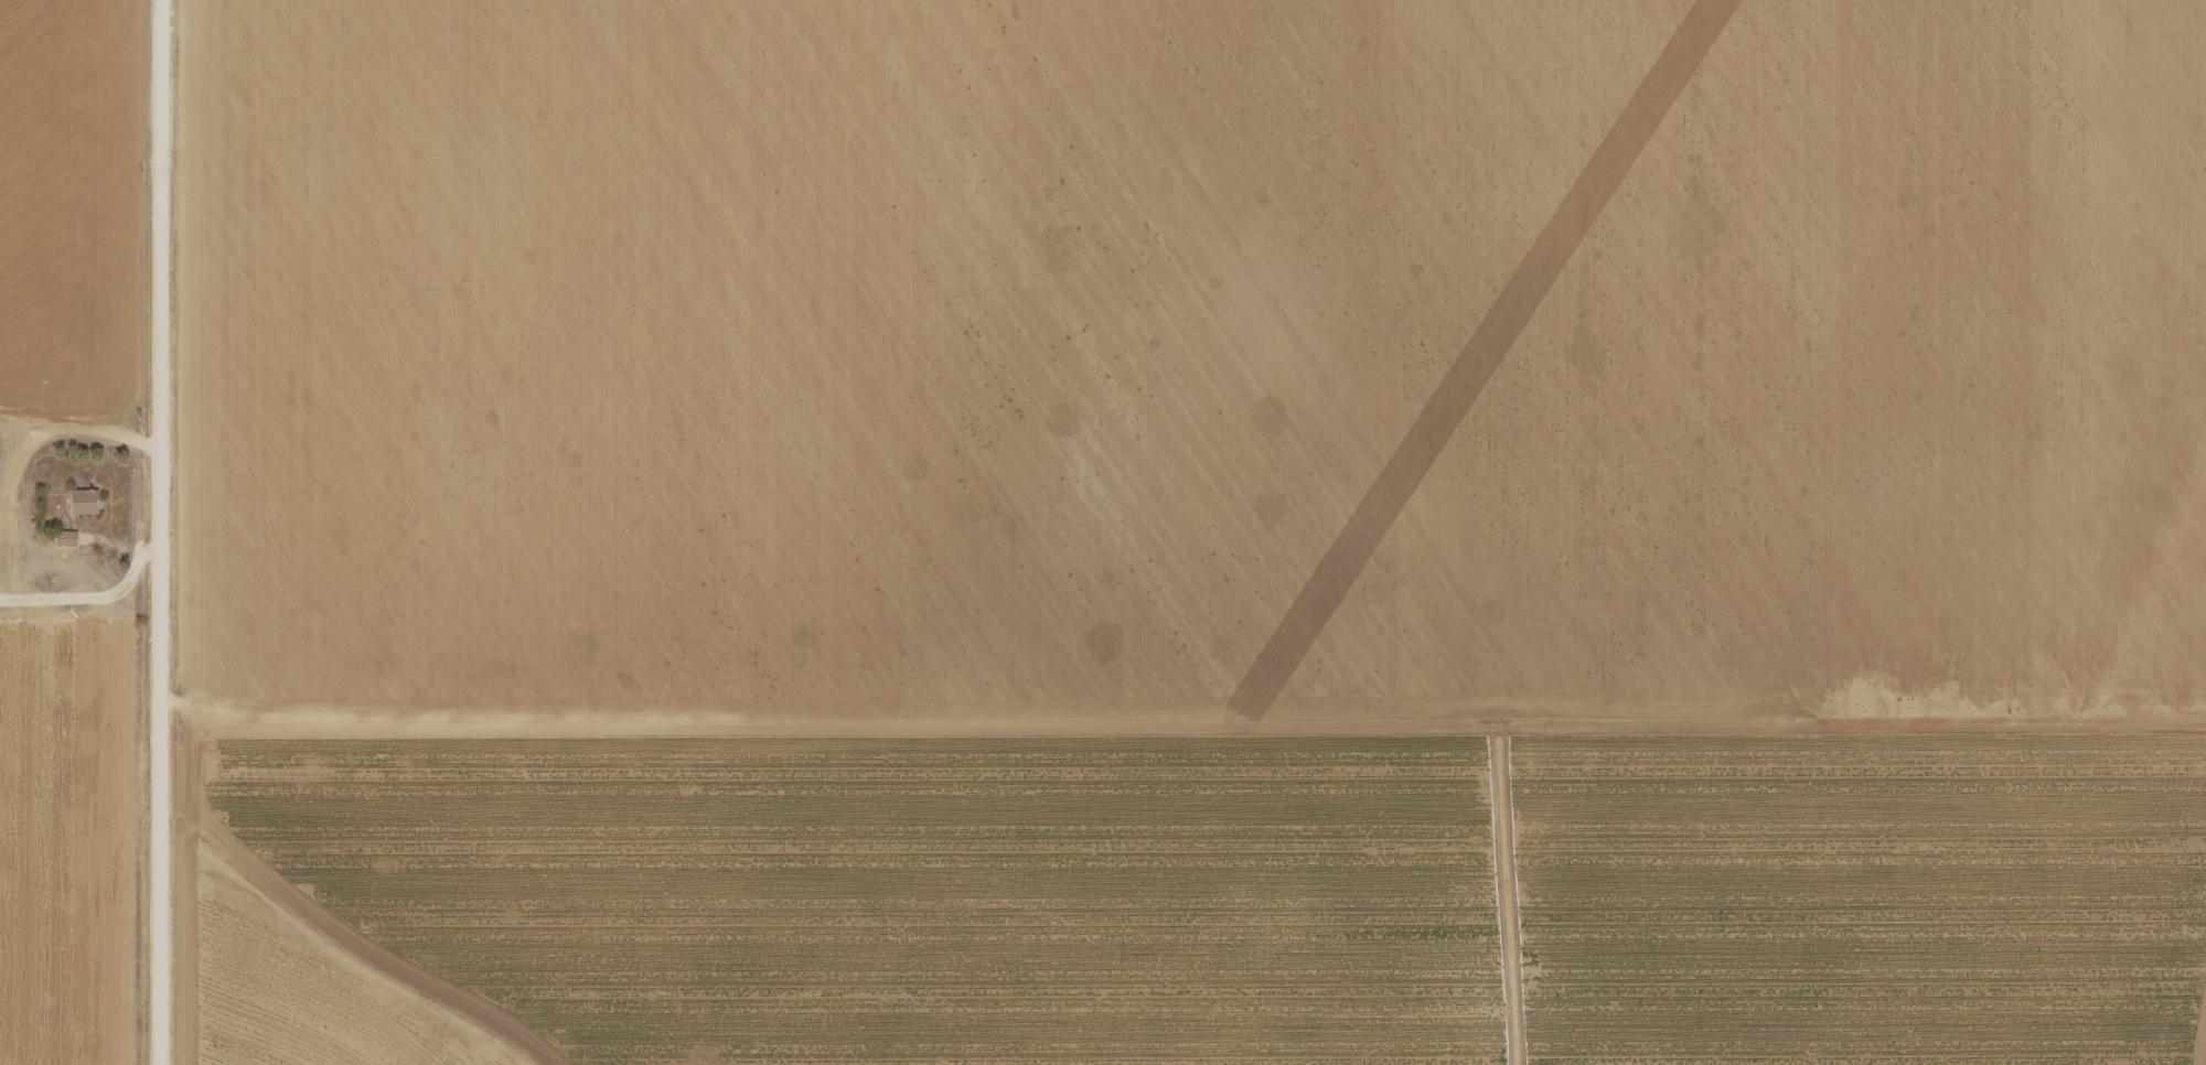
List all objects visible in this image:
building: (86, 504)
road: (142, 531)
building: (69, 540)

